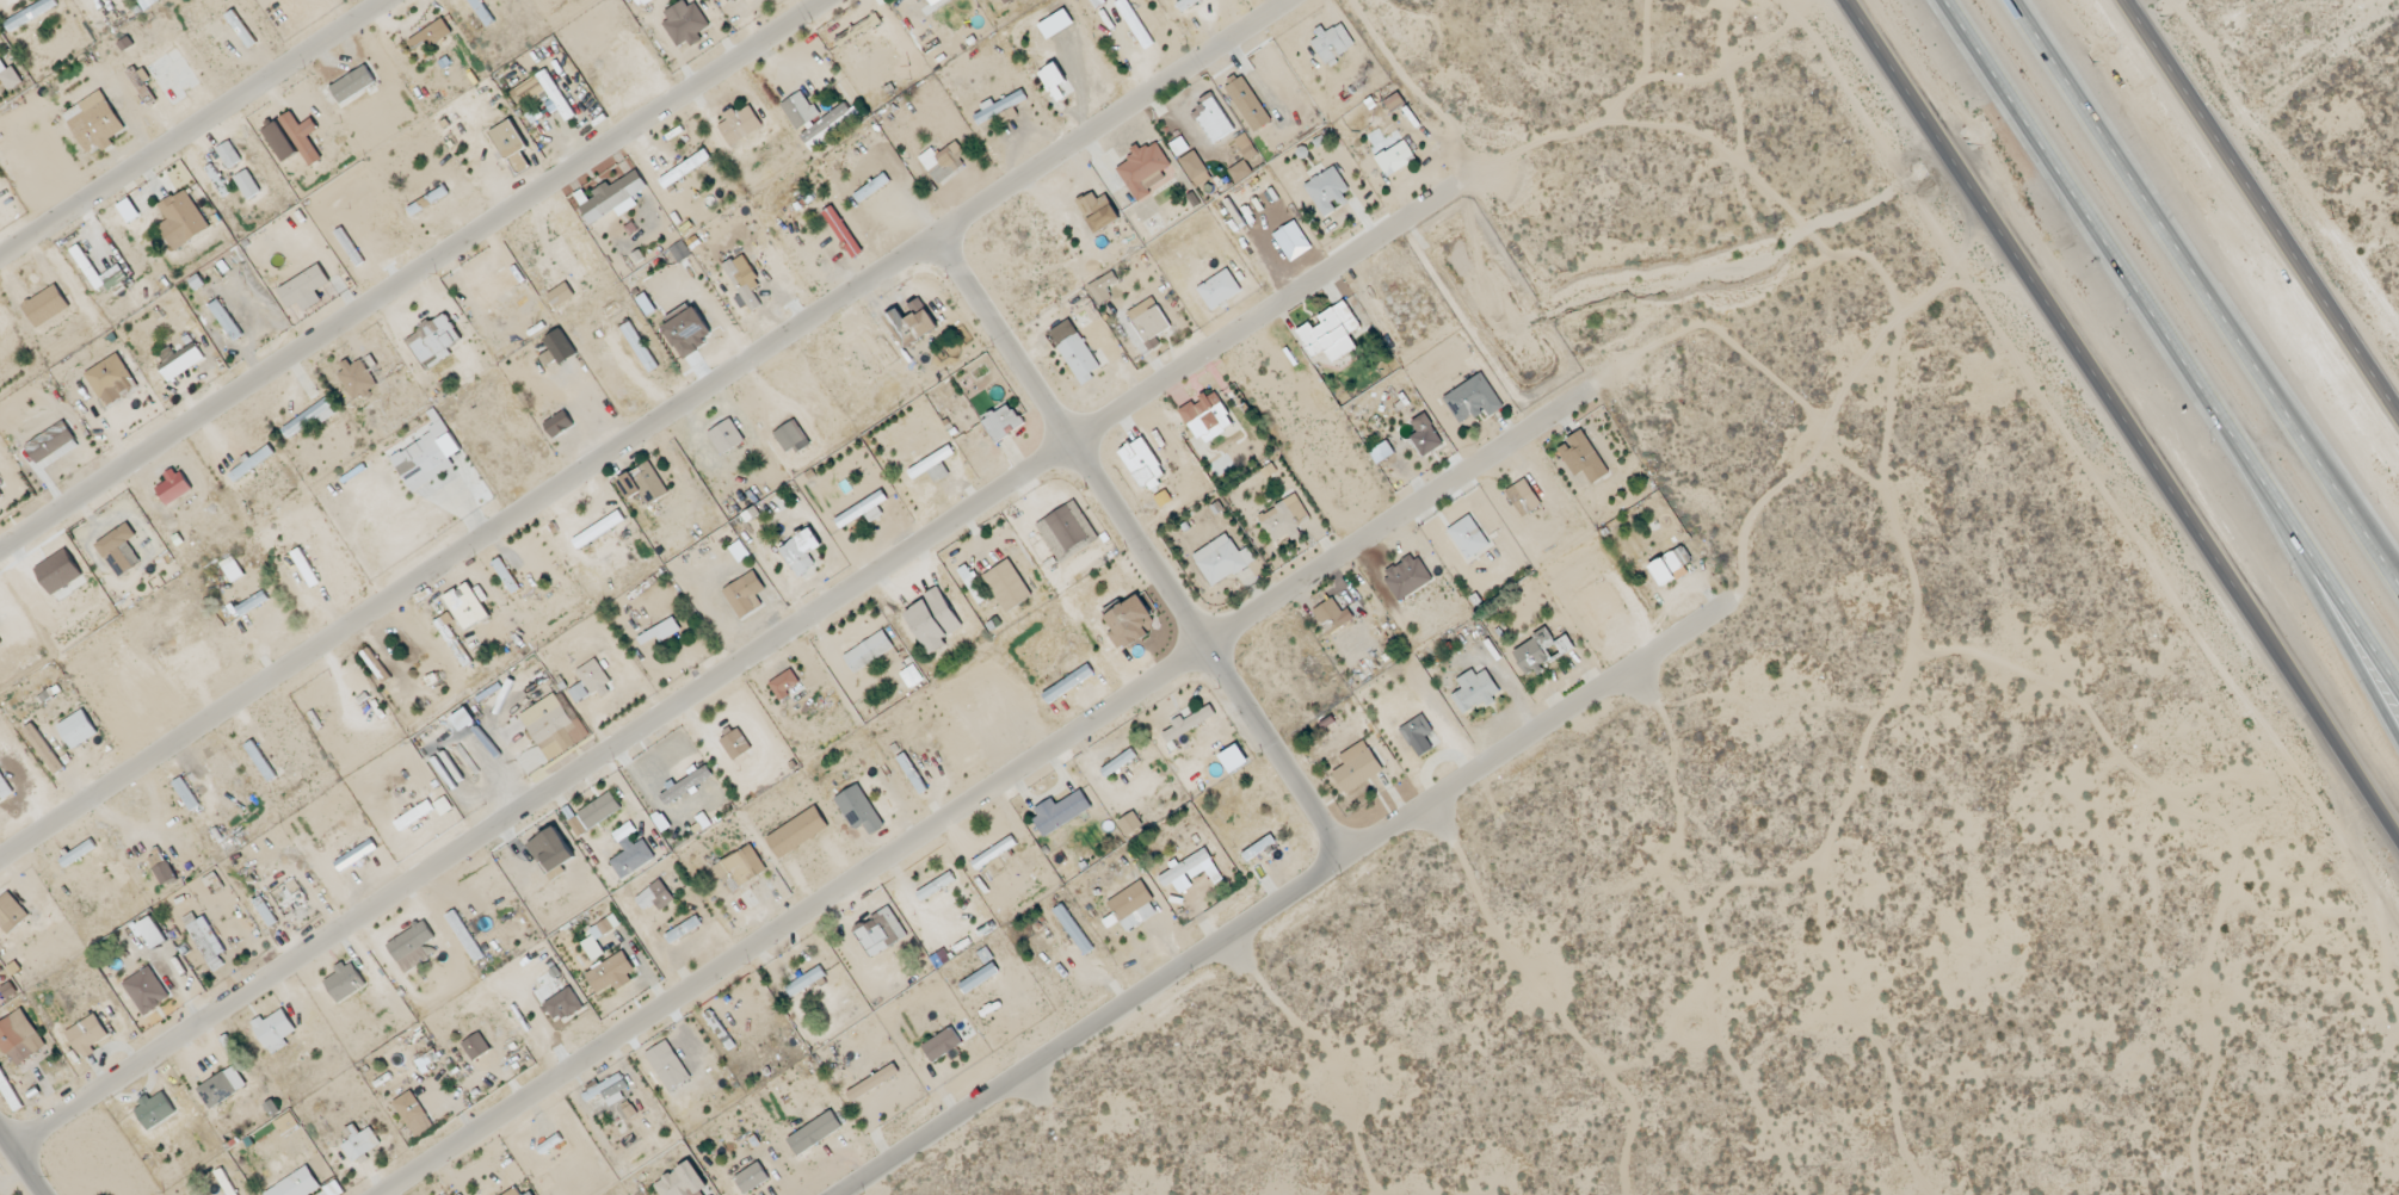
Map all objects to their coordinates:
building: (728, 0)
building: (933, 1)
building: (641, 2)
building: (1186, 4)
building: (481, 12)
building: (31, 14)
building: (684, 23)
building: (1134, 24)
building: (858, 31)
building: (431, 36)
building: (926, 41)
building: (1332, 44)
building: (11, 79)
building: (1053, 81)
building: (141, 83)
building: (352, 85)
building: (530, 95)
building: (554, 95)
building: (1393, 103)
building: (1247, 105)
building: (999, 107)
building: (798, 111)
road: (174, 117)
building: (94, 123)
building: (740, 125)
building: (830, 126)
building: (302, 136)
building: (279, 142)
building: (511, 145)
building: (1245, 147)
building: (1177, 148)
building: (228, 155)
building: (1395, 159)
building: (943, 161)
building: (685, 169)
building: (1195, 169)
building: (1146, 172)
building: (1240, 172)
building: (217, 181)
building: (247, 185)
building: (871, 188)
building: (1326, 191)
building: (613, 199)
building: (427, 202)
road: (2262, 206)
building: (1097, 212)
building: (181, 221)
building: (841, 233)
building: (1291, 241)
road: (393, 262)
building: (116, 271)
building: (1102, 287)
building: (304, 289)
building: (493, 289)
building: (1219, 290)
road: (2203, 293)
building: (561, 296)
building: (47, 307)
building: (1148, 320)
building: (226, 321)
building: (912, 322)
building: (687, 333)
building: (1331, 333)
building: (434, 341)
road: (2172, 343)
building: (639, 347)
building: (1078, 358)
building: (181, 363)
building: (359, 378)
building: (111, 380)
building: (1472, 400)
building: (1207, 416)
building: (310, 417)
road: (629, 417)
road: (2123, 417)
building: (1001, 423)
building: (559, 425)
building: (726, 436)
building: (790, 436)
building: (1424, 436)
building: (53, 444)
building: (426, 457)
building: (1581, 458)
building: (253, 462)
building: (1141, 463)
building: (932, 466)
building: (0, 484)
building: (642, 484)
building: (173, 487)
building: (0, 496)
building: (1523, 499)
building: (862, 512)
road: (2358, 515)
building: (1283, 520)
building: (598, 531)
building: (1066, 532)
road: (1130, 532)
building: (1468, 539)
building: (119, 550)
building: (739, 551)
building: (801, 552)
building: (1221, 561)
building: (1670, 565)
building: (232, 569)
building: (58, 572)
building: (506, 576)
building: (1406, 577)
building: (972, 584)
building: (1007, 587)
building: (745, 595)
road: (2319, 599)
building: (252, 603)
building: (467, 606)
building: (1332, 617)
building: (933, 621)
building: (1129, 624)
building: (452, 639)
road: (721, 646)
building: (1541, 651)
building: (868, 652)
building: (596, 680)
road: (1629, 683)
building: (784, 685)
building: (1474, 692)
road: (1564, 692)
building: (579, 693)
building: (989, 717)
building: (463, 722)
building: (554, 723)
building: (1189, 724)
building: (78, 730)
building: (1417, 736)
building: (735, 744)
building: (43, 749)
building: (1233, 760)
building: (260, 761)
road: (964, 781)
building: (685, 785)
building: (4, 790)
building: (185, 794)
building: (442, 806)
road: (1426, 810)
building: (599, 811)
building: (859, 811)
building: (1060, 812)
road: (1371, 812)
building: (413, 816)
building: (1130, 824)
building: (576, 826)
building: (797, 834)
building: (1258, 848)
building: (630, 853)
building: (993, 853)
building: (76, 854)
building: (354, 856)
building: (161, 868)
building: (740, 869)
building: (1190, 872)
building: (212, 884)
building: (935, 887)
building: (654, 897)
building: (1133, 908)
building: (11, 914)
building: (1072, 930)
building: (152, 933)
building: (880, 933)
building: (464, 936)
building: (204, 941)
building: (590, 941)
road: (1229, 942)
building: (412, 947)
building: (611, 974)
building: (979, 978)
building: (806, 982)
building: (344, 983)
building: (7, 991)
building: (146, 991)
building: (562, 1005)
road: (1069, 1017)
building: (273, 1032)
building: (87, 1035)
building: (19, 1039)
building: (942, 1045)
building: (475, 1047)
building: (667, 1066)
road: (1028, 1075)
building: (872, 1083)
building: (222, 1088)
building: (606, 1090)
building: (155, 1110)
building: (413, 1115)
building: (814, 1134)
building: (359, 1143)
road: (25, 1162)
building: (751, 1178)
building: (682, 1182)
building: (296, 1184)
building: (516, 1191)
road: (810, 1193)

